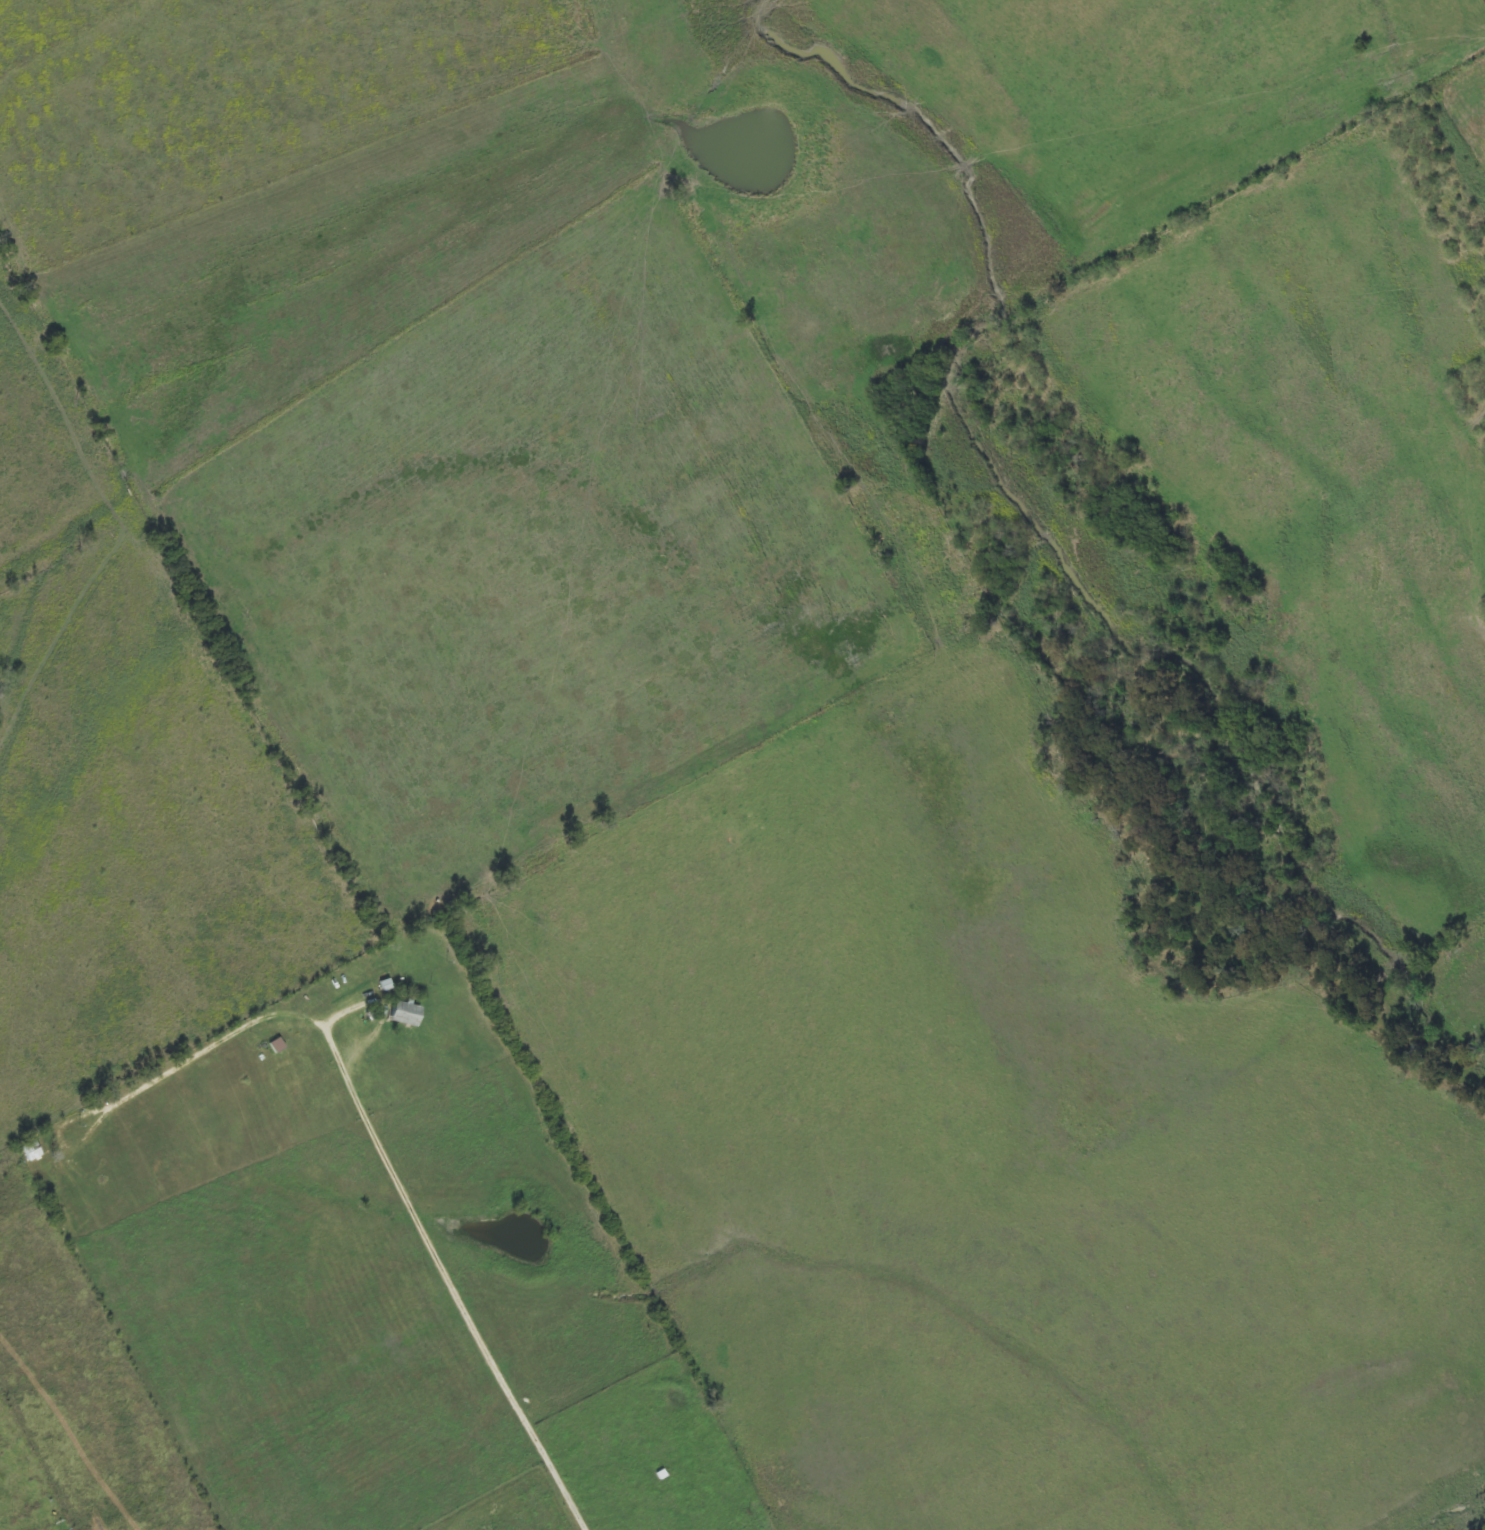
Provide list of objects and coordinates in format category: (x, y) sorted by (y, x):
building: (403, 1014)
building: (275, 1045)
road: (379, 1138)
building: (29, 1151)

